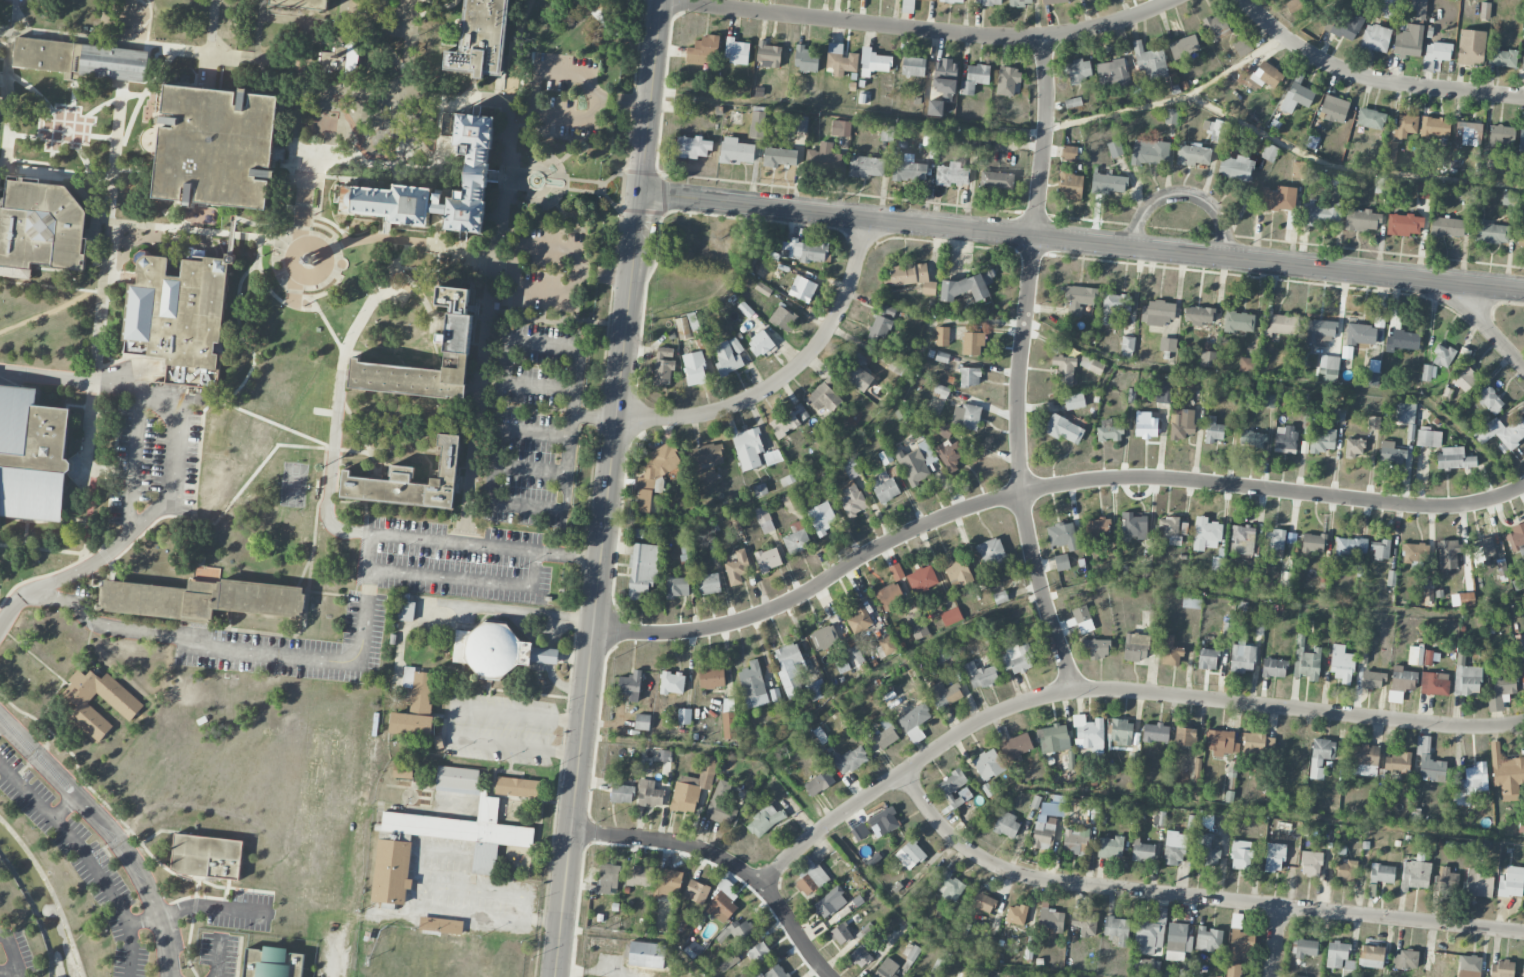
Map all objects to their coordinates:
parking lot: (29, 0)
building: (931, 0)
building: (952, 1)
building: (1053, 1)
building: (989, 2)
road: (144, 3)
building: (1019, 3)
building: (299, 4)
road: (584, 4)
building: (1294, 5)
building: (1419, 8)
building: (1389, 9)
road: (596, 10)
building: (1485, 10)
road: (521, 22)
road: (148, 23)
building: (1346, 26)
road: (212, 27)
building: (1216, 27)
road: (922, 31)
road: (136, 32)
building: (1375, 38)
building: (478, 40)
building: (1408, 41)
building: (1183, 46)
building: (1241, 46)
building: (1471, 47)
road: (155, 48)
road: (561, 49)
building: (703, 50)
building: (736, 51)
building: (1438, 52)
building: (49, 54)
building: (768, 55)
building: (1501, 57)
building: (807, 59)
building: (840, 60)
building: (1150, 61)
building: (116, 62)
building: (334, 62)
building: (873, 62)
building: (1522, 62)
building: (913, 66)
building: (1079, 70)
road: (541, 74)
building: (1112, 74)
building: (1260, 76)
building: (945, 78)
building: (974, 78)
building: (1007, 80)
road: (1372, 80)
road: (1200, 87)
parking lot: (565, 92)
road: (7, 95)
building: (1297, 95)
road: (652, 97)
building: (1, 100)
building: (1073, 102)
building: (935, 107)
building: (1334, 108)
building: (1171, 116)
building: (1370, 118)
road: (68, 122)
building: (800, 123)
building: (757, 124)
building: (1406, 125)
building: (1435, 127)
building: (840, 128)
building: (1215, 129)
building: (887, 133)
building: (1468, 133)
road: (503, 136)
building: (1501, 136)
road: (565, 137)
building: (1522, 139)
building: (1312, 142)
road: (71, 144)
road: (38, 145)
building: (214, 146)
building: (692, 147)
building: (1114, 149)
road: (114, 151)
building: (736, 151)
building: (1150, 152)
building: (1391, 152)
building: (1069, 153)
building: (1270, 153)
building: (1193, 155)
building: (779, 157)
building: (822, 159)
road: (559, 160)
building: (866, 166)
road: (622, 168)
building: (1235, 168)
road: (1346, 168)
building: (474, 170)
building: (1298, 170)
road: (91, 171)
building: (909, 171)
building: (952, 175)
fountain: (545, 180)
road: (306, 181)
building: (995, 181)
building: (1338, 181)
building: (1108, 184)
building: (1070, 185)
road: (602, 186)
building: (1423, 190)
road: (600, 191)
road: (1184, 195)
building: (1278, 199)
road: (542, 202)
building: (1322, 215)
road: (572, 218)
building: (1361, 220)
road: (330, 222)
road: (149, 224)
building: (1404, 224)
building: (43, 225)
building: (1447, 227)
road: (512, 230)
building: (1491, 233)
building: (1521, 237)
road: (261, 238)
road: (368, 238)
road: (268, 239)
road: (276, 239)
road: (1083, 240)
road: (524, 250)
road: (459, 251)
building: (803, 251)
road: (307, 263)
road: (491, 268)
road: (442, 270)
parking lot: (548, 270)
road: (261, 274)
building: (912, 277)
road: (51, 286)
building: (967, 287)
building: (763, 289)
building: (802, 289)
road: (238, 296)
road: (375, 297)
building: (1078, 298)
building: (1114, 307)
building: (745, 309)
road: (428, 313)
building: (1157, 313)
building: (180, 314)
building: (1198, 315)
building: (783, 317)
building: (692, 321)
building: (1239, 321)
building: (882, 322)
building: (1281, 325)
road: (1484, 325)
building: (682, 328)
road: (331, 332)
building: (1319, 332)
building: (1360, 334)
building: (942, 336)
road: (507, 339)
building: (759, 341)
building: (1403, 341)
road: (244, 343)
building: (972, 343)
building: (464, 344)
building: (1167, 344)
building: (1127, 346)
road: (481, 348)
building: (728, 356)
building: (1442, 356)
building: (1208, 359)
road: (342, 362)
road: (252, 363)
building: (663, 365)
building: (1091, 365)
building: (1247, 365)
building: (897, 366)
building: (1329, 367)
building: (694, 368)
road: (1020, 368)
building: (854, 369)
building: (1064, 370)
building: (1428, 372)
road: (47, 374)
road: (787, 374)
building: (970, 376)
road: (1240, 376)
road: (94, 377)
road: (118, 379)
building: (1465, 379)
building: (941, 389)
building: (825, 395)
building: (1488, 399)
building: (1074, 401)
building: (1269, 401)
road: (499, 405)
road: (524, 407)
building: (1404, 413)
building: (1338, 415)
road: (595, 416)
building: (965, 416)
road: (278, 417)
building: (789, 420)
building: (1373, 422)
building: (1146, 425)
building: (1181, 425)
parking lot: (534, 426)
building: (1063, 429)
building: (945, 430)
building: (1213, 430)
road: (569, 431)
building: (1109, 431)
road: (361, 433)
building: (1502, 433)
building: (1285, 437)
building: (1428, 438)
building: (1252, 439)
building: (1323, 441)
parking lot: (152, 444)
road: (310, 445)
building: (1354, 447)
building: (748, 448)
road: (429, 450)
building: (926, 452)
building: (1391, 453)
building: (708, 454)
building: (34, 455)
road: (425, 456)
building: (950, 456)
building: (772, 457)
building: (1454, 459)
road: (134, 461)
road: (174, 462)
building: (912, 466)
road: (329, 467)
building: (851, 468)
road: (528, 469)
building: (655, 473)
road: (807, 478)
building: (408, 480)
park: (294, 483)
building: (883, 486)
road: (489, 487)
road: (1045, 489)
road: (196, 490)
building: (851, 498)
building: (790, 502)
building: (822, 518)
building: (764, 520)
building: (1134, 525)
building: (1098, 529)
building: (1169, 529)
road: (26, 532)
building: (1206, 534)
building: (1063, 536)
building: (1515, 537)
building: (796, 538)
building: (1291, 538)
building: (1242, 539)
road: (122, 541)
building: (1275, 543)
building: (1313, 543)
building: (1351, 546)
road: (42, 548)
building: (1380, 549)
building: (1483, 549)
building: (1414, 553)
building: (992, 554)
building: (1449, 554)
road: (84, 555)
building: (768, 559)
parking lot: (459, 561)
building: (1061, 562)
building: (1217, 564)
building: (737, 568)
road: (304, 570)
building: (641, 570)
building: (896, 572)
building: (958, 573)
building: (922, 579)
building: (1285, 579)
road: (466, 580)
road: (57, 582)
building: (1518, 583)
building: (708, 584)
road: (598, 586)
building: (677, 587)
road: (336, 594)
building: (889, 596)
building: (203, 597)
building: (1000, 598)
building: (1466, 599)
building: (1191, 601)
road: (471, 609)
building: (405, 611)
building: (951, 617)
road: (229, 619)
building: (860, 619)
building: (1081, 619)
building: (916, 625)
road: (302, 629)
building: (824, 638)
parking lot: (293, 646)
building: (887, 646)
road: (360, 647)
building: (1136, 647)
building: (1097, 648)
building: (495, 651)
building: (941, 652)
building: (1171, 652)
building: (857, 654)
building: (1415, 655)
building: (1428, 657)
road: (895, 658)
building: (1017, 658)
building: (1242, 658)
road: (38, 659)
building: (1207, 659)
building: (1306, 660)
building: (1521, 663)
building: (1341, 664)
building: (842, 666)
building: (790, 668)
building: (1274, 668)
building: (980, 675)
building: (711, 678)
building: (1466, 678)
building: (1372, 679)
building: (672, 683)
building: (1400, 683)
building: (1434, 683)
building: (630, 685)
building: (753, 685)
building: (418, 688)
building: (816, 690)
road: (1112, 690)
building: (1501, 692)
building: (775, 694)
building: (943, 694)
building: (92, 699)
road: (51, 701)
building: (684, 716)
road: (450, 722)
building: (642, 722)
building: (914, 722)
building: (415, 728)
parking lot: (504, 730)
building: (1121, 732)
building: (1155, 732)
building: (1088, 733)
building: (820, 735)
building: (883, 736)
building: (1185, 737)
building: (1053, 738)
building: (1253, 741)
building: (1222, 743)
road: (674, 744)
building: (1016, 747)
building: (663, 755)
building: (1321, 756)
building: (850, 759)
building: (1071, 760)
building: (1362, 760)
road: (75, 761)
building: (1429, 761)
building: (1397, 762)
building: (988, 765)
building: (403, 770)
building: (1506, 772)
building: (457, 780)
building: (1472, 782)
building: (819, 783)
building: (693, 786)
building: (517, 787)
building: (954, 788)
building: (988, 789)
building: (621, 793)
building: (649, 794)
road: (37, 798)
building: (722, 803)
road: (1229, 808)
building: (764, 821)
building: (883, 821)
building: (1006, 825)
building: (1521, 829)
road: (112, 830)
road: (161, 830)
building: (860, 832)
building: (1043, 834)
building: (1075, 841)
building: (1110, 847)
building: (1175, 847)
road: (445, 850)
building: (1205, 850)
building: (1143, 851)
building: (910, 855)
building: (1240, 855)
building: (208, 856)
building: (1274, 857)
building: (874, 858)
road: (726, 859)
building: (392, 860)
parking lot: (81, 861)
building: (1311, 863)
building: (1345, 870)
building: (1382, 873)
building: (1415, 875)
road: (104, 876)
building: (639, 876)
building: (1444, 876)
building: (810, 877)
building: (608, 878)
road: (201, 880)
building: (668, 882)
building: (1511, 882)
building: (1477, 883)
road: (421, 885)
building: (949, 886)
building: (696, 892)
road: (194, 895)
road: (1191, 896)
building: (722, 901)
building: (830, 902)
building: (983, 902)
road: (213, 906)
parking lot: (240, 910)
road: (907, 910)
building: (1016, 914)
road: (542, 919)
building: (1051, 919)
building: (1084, 924)
building: (440, 925)
road: (191, 929)
building: (1117, 929)
building: (737, 932)
road: (641, 934)
building: (841, 934)
building: (1150, 935)
building: (1208, 939)
building: (1177, 941)
road: (1276, 941)
building: (1241, 943)
road: (132, 948)
building: (1305, 948)
road: (12, 953)
parking lot: (14, 953)
building: (758, 953)
building: (1336, 954)
building: (646, 955)
building: (1371, 956)
building: (860, 957)
road: (217, 958)
building: (1407, 959)
building: (273, 962)
building: (1148, 966)
building: (1469, 966)
building: (887, 968)
building: (1349, 968)
building: (1501, 969)
building: (1233, 970)
building: (1523, 971)
road: (8, 972)
building: (776, 972)
building: (756, 974)
building: (991, 974)
parking lot: (34, 976)

